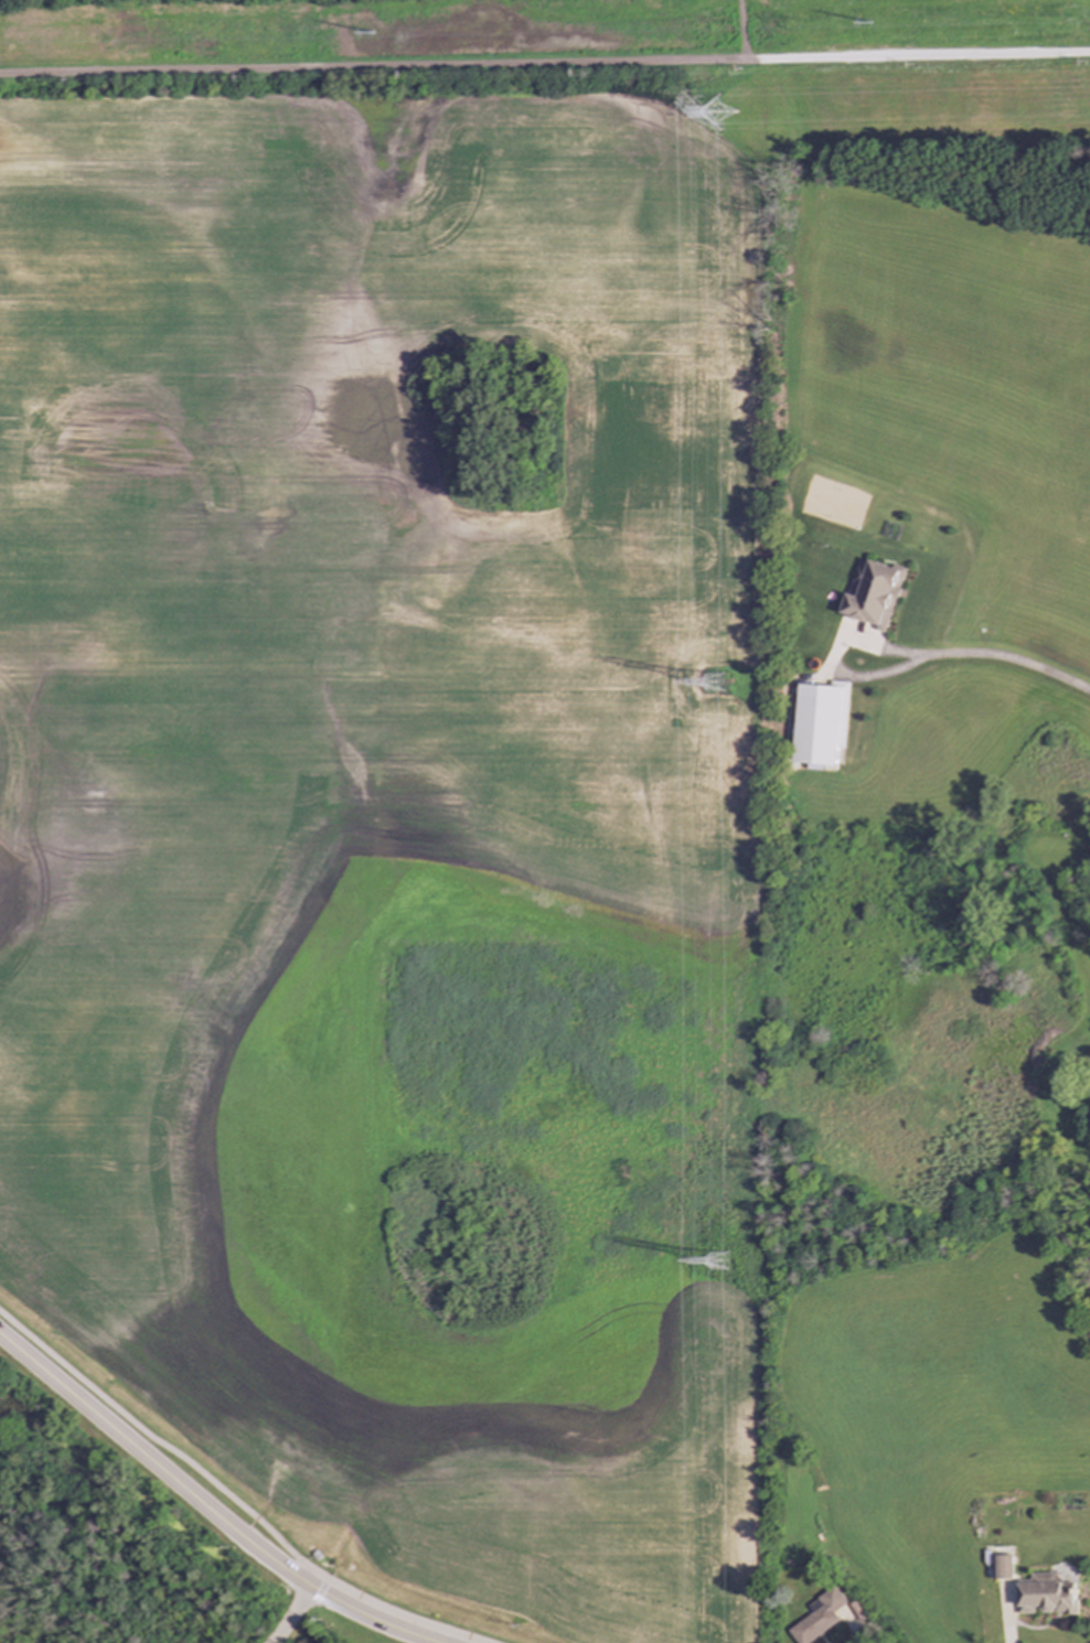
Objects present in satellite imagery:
park: (313, 3)
power tower: (856, 24)
road: (741, 30)
power tower: (360, 35)
road: (916, 56)
road: (371, 67)
power tower: (722, 115)
crop: (966, 463)
building: (875, 594)
road: (831, 658)
road: (1006, 659)
power tower: (719, 683)
building: (822, 722)
crop: (365, 726)
power tower: (720, 1264)
road: (201, 1494)
road: (232, 1500)
building: (1003, 1567)
building: (1048, 1594)
road: (290, 1612)
building: (821, 1617)
road: (1007, 1632)

